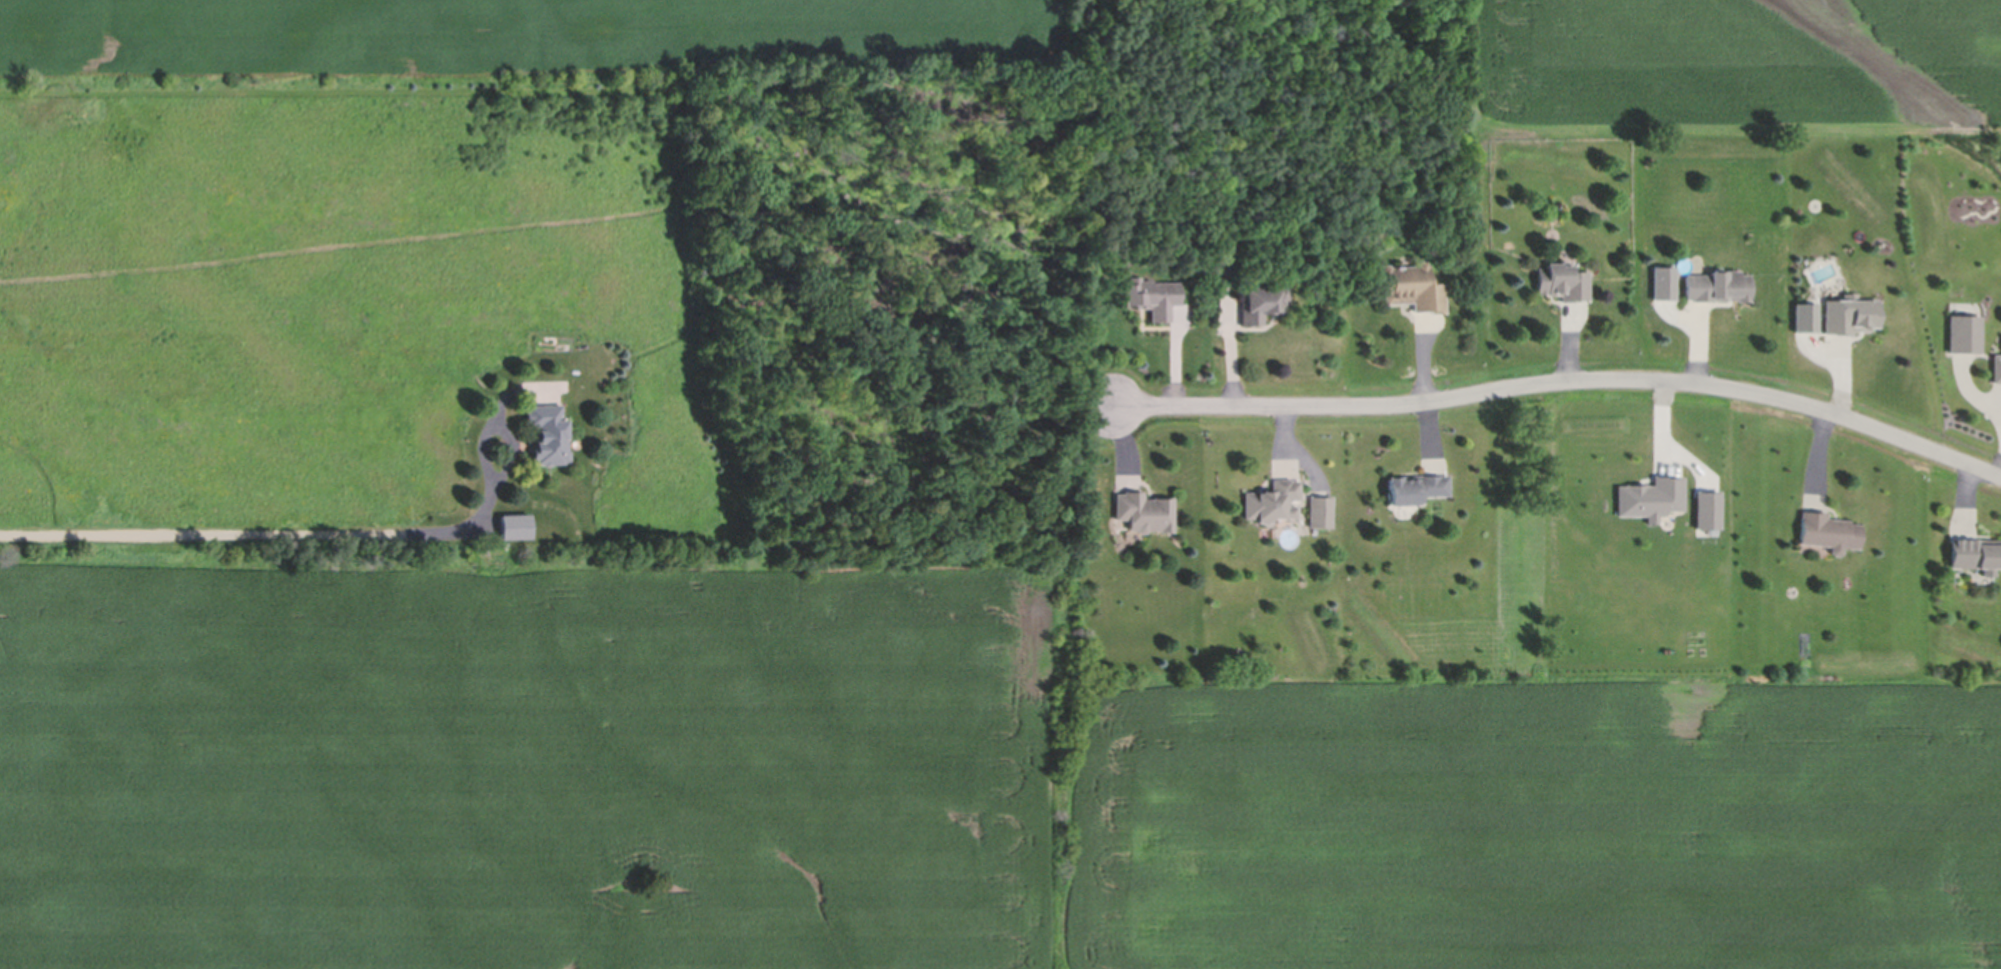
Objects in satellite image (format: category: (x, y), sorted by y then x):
building: (1224, 259)
building: (1563, 283)
building: (1412, 289)
building: (1717, 289)
building: (1152, 299)
building: (1264, 305)
building: (1850, 317)
building: (1964, 336)
building: (1697, 341)
building: (1996, 370)
road: (1558, 397)
building: (549, 436)
building: (1283, 468)
building: (1416, 490)
building: (1272, 504)
building: (1145, 514)
building: (1320, 514)
road: (279, 530)
building: (515, 530)
road: (1522, 534)
building: (1827, 535)
building: (1976, 557)

